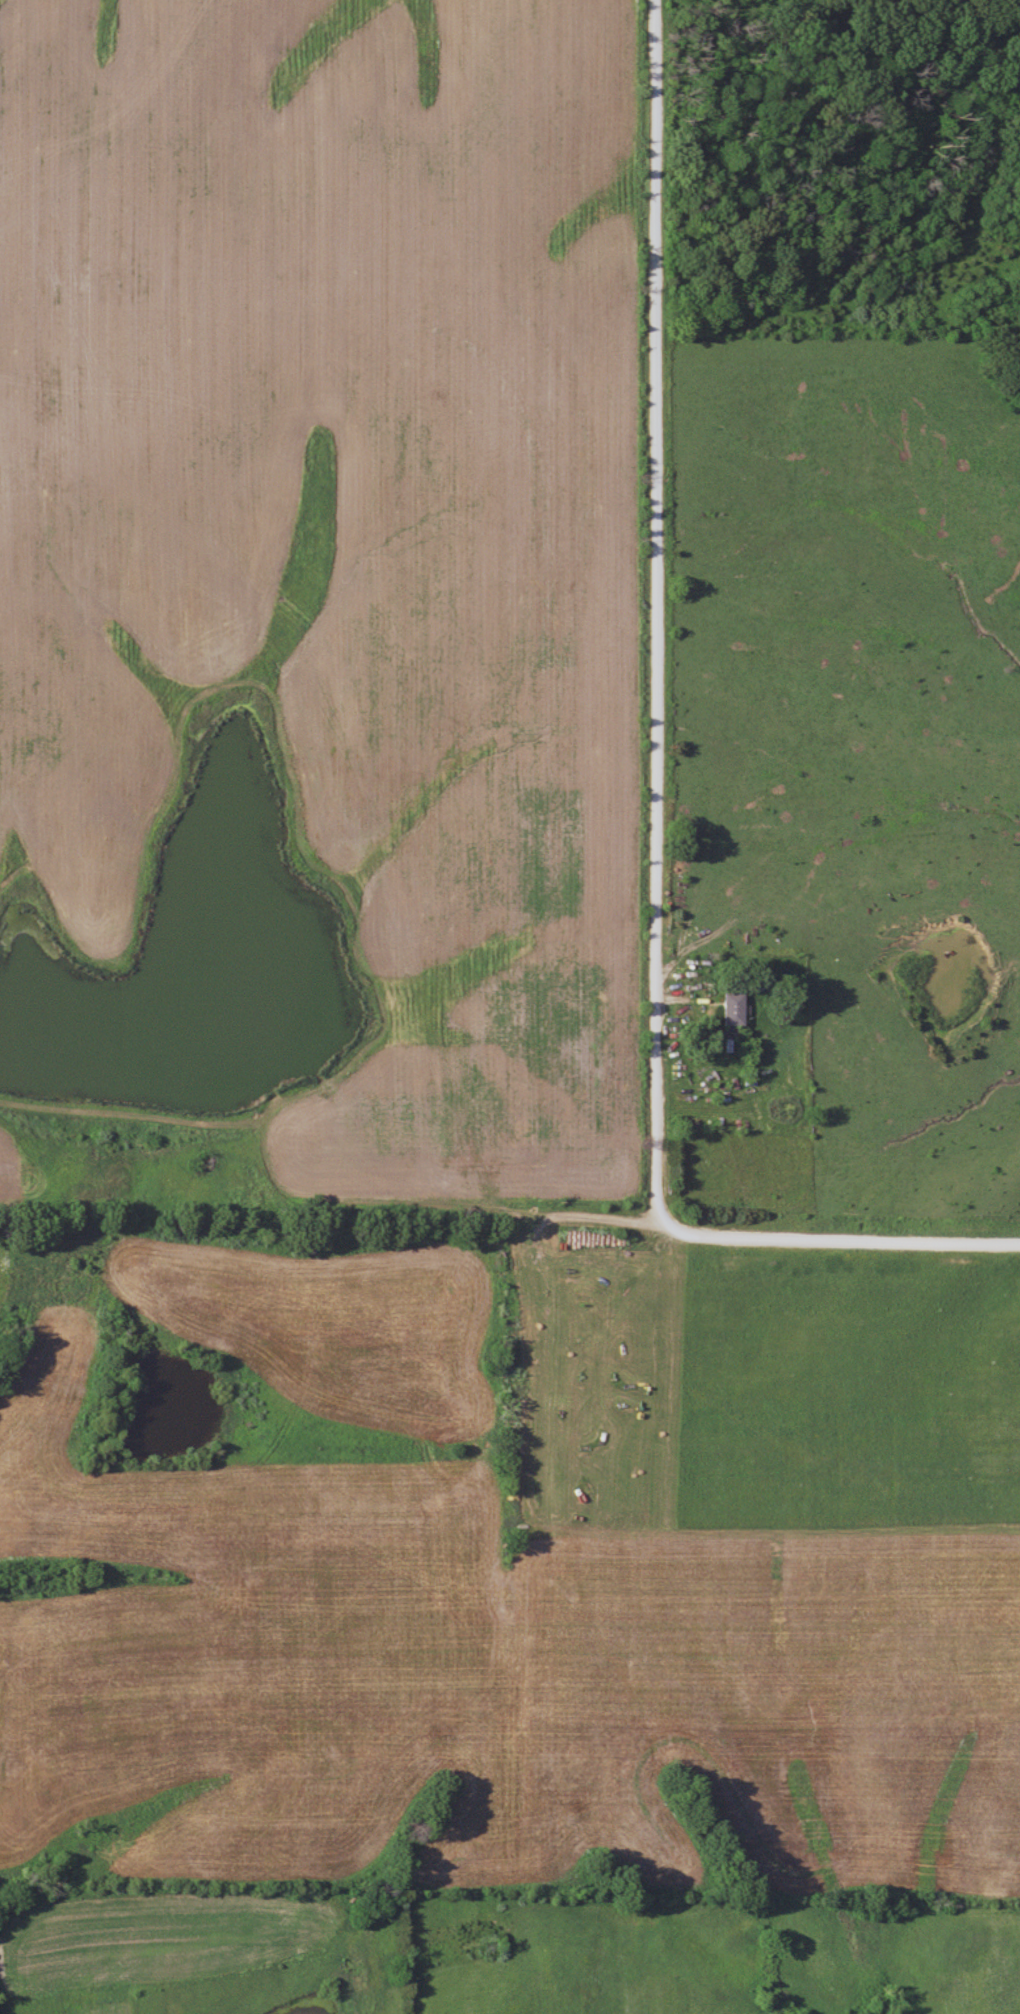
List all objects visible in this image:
road: (643, 607)
building: (734, 1009)
road: (840, 1220)

